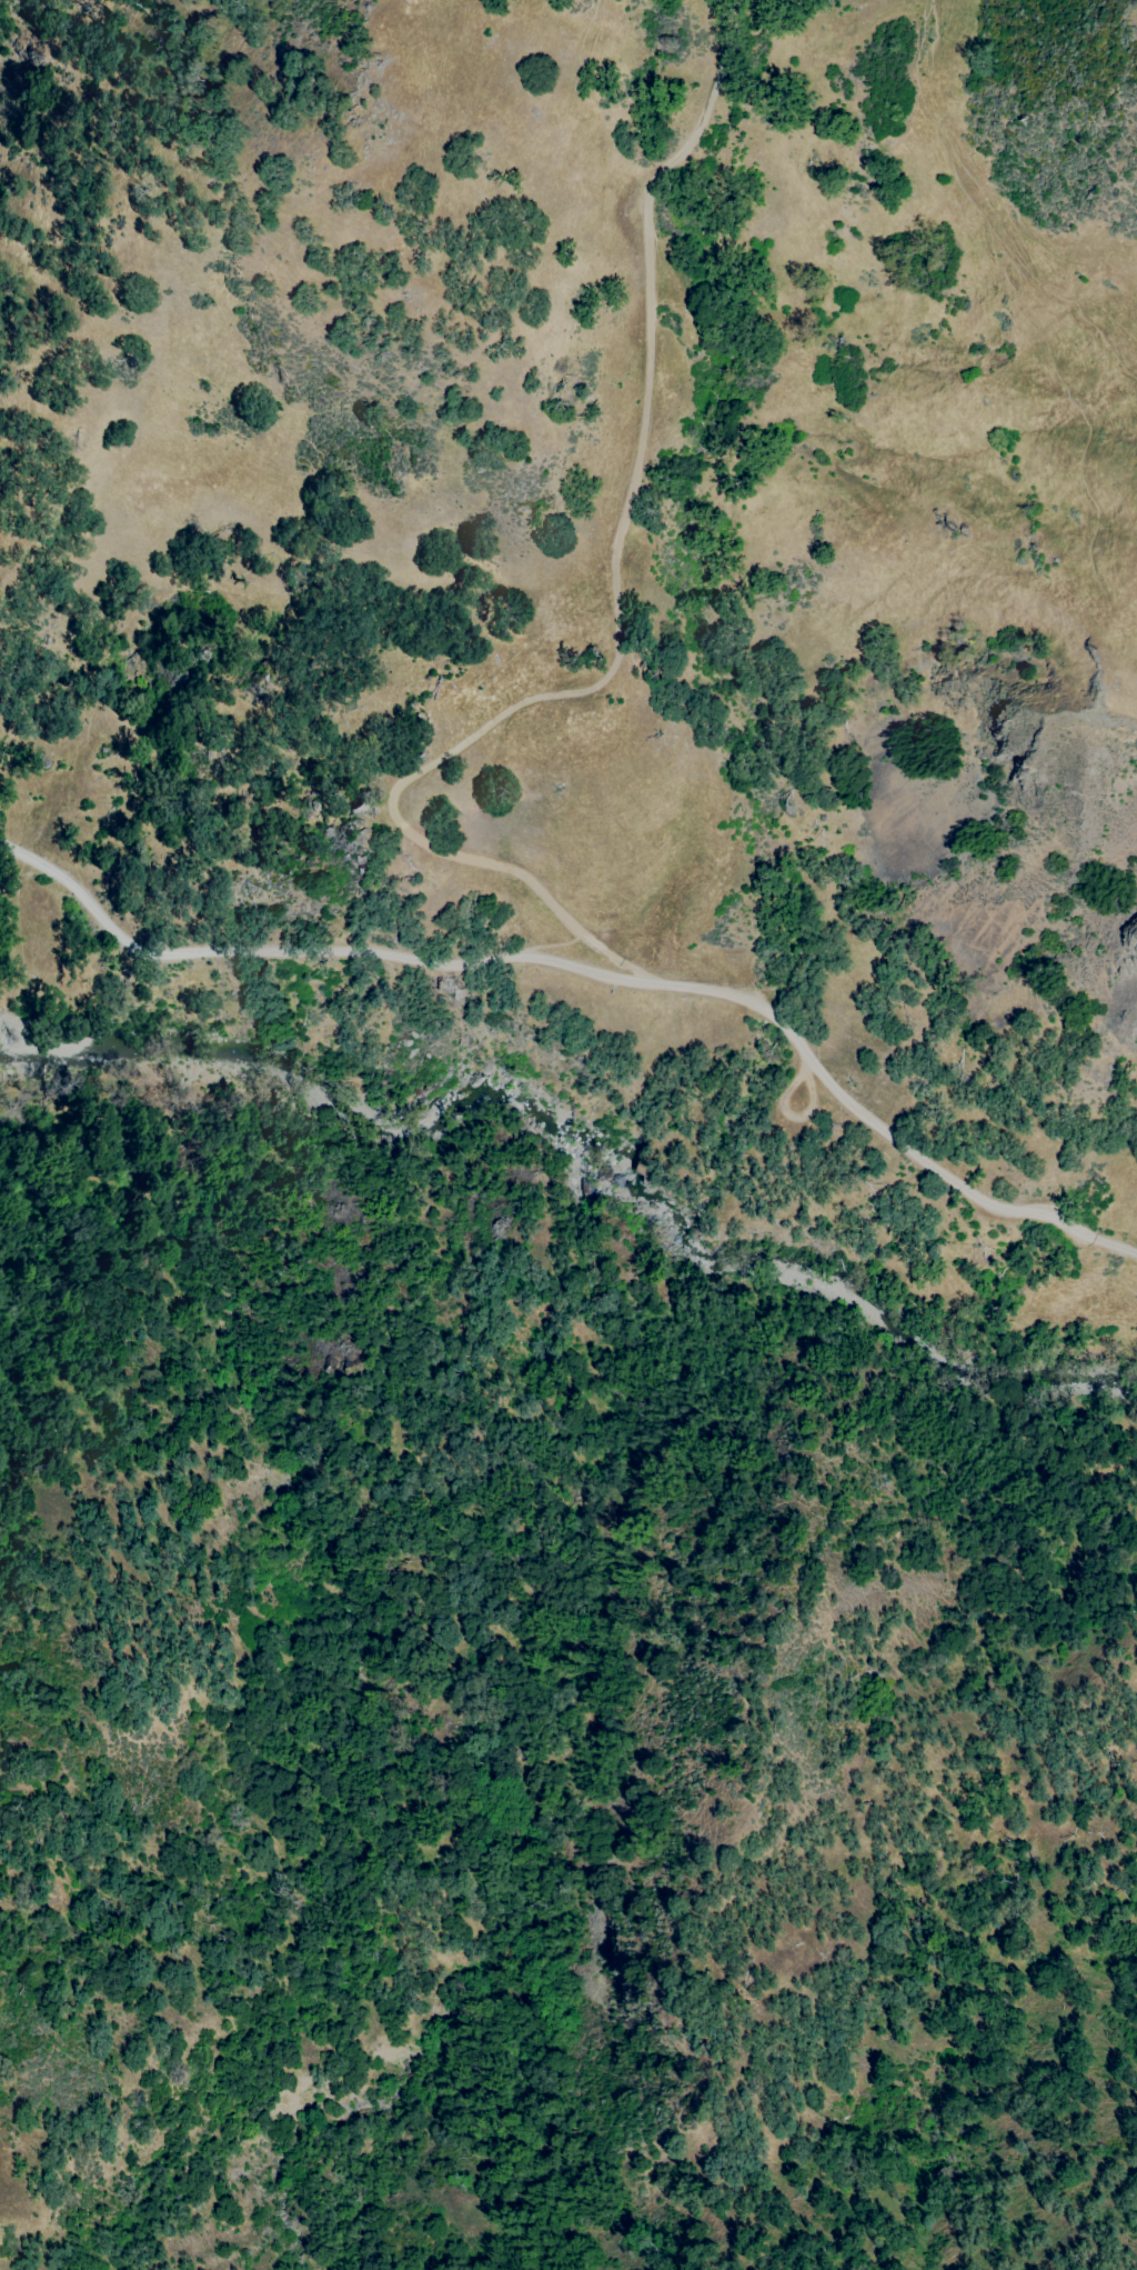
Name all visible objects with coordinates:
road: (618, 618)
road: (572, 969)
river: (583, 1172)
road: (1115, 1249)

